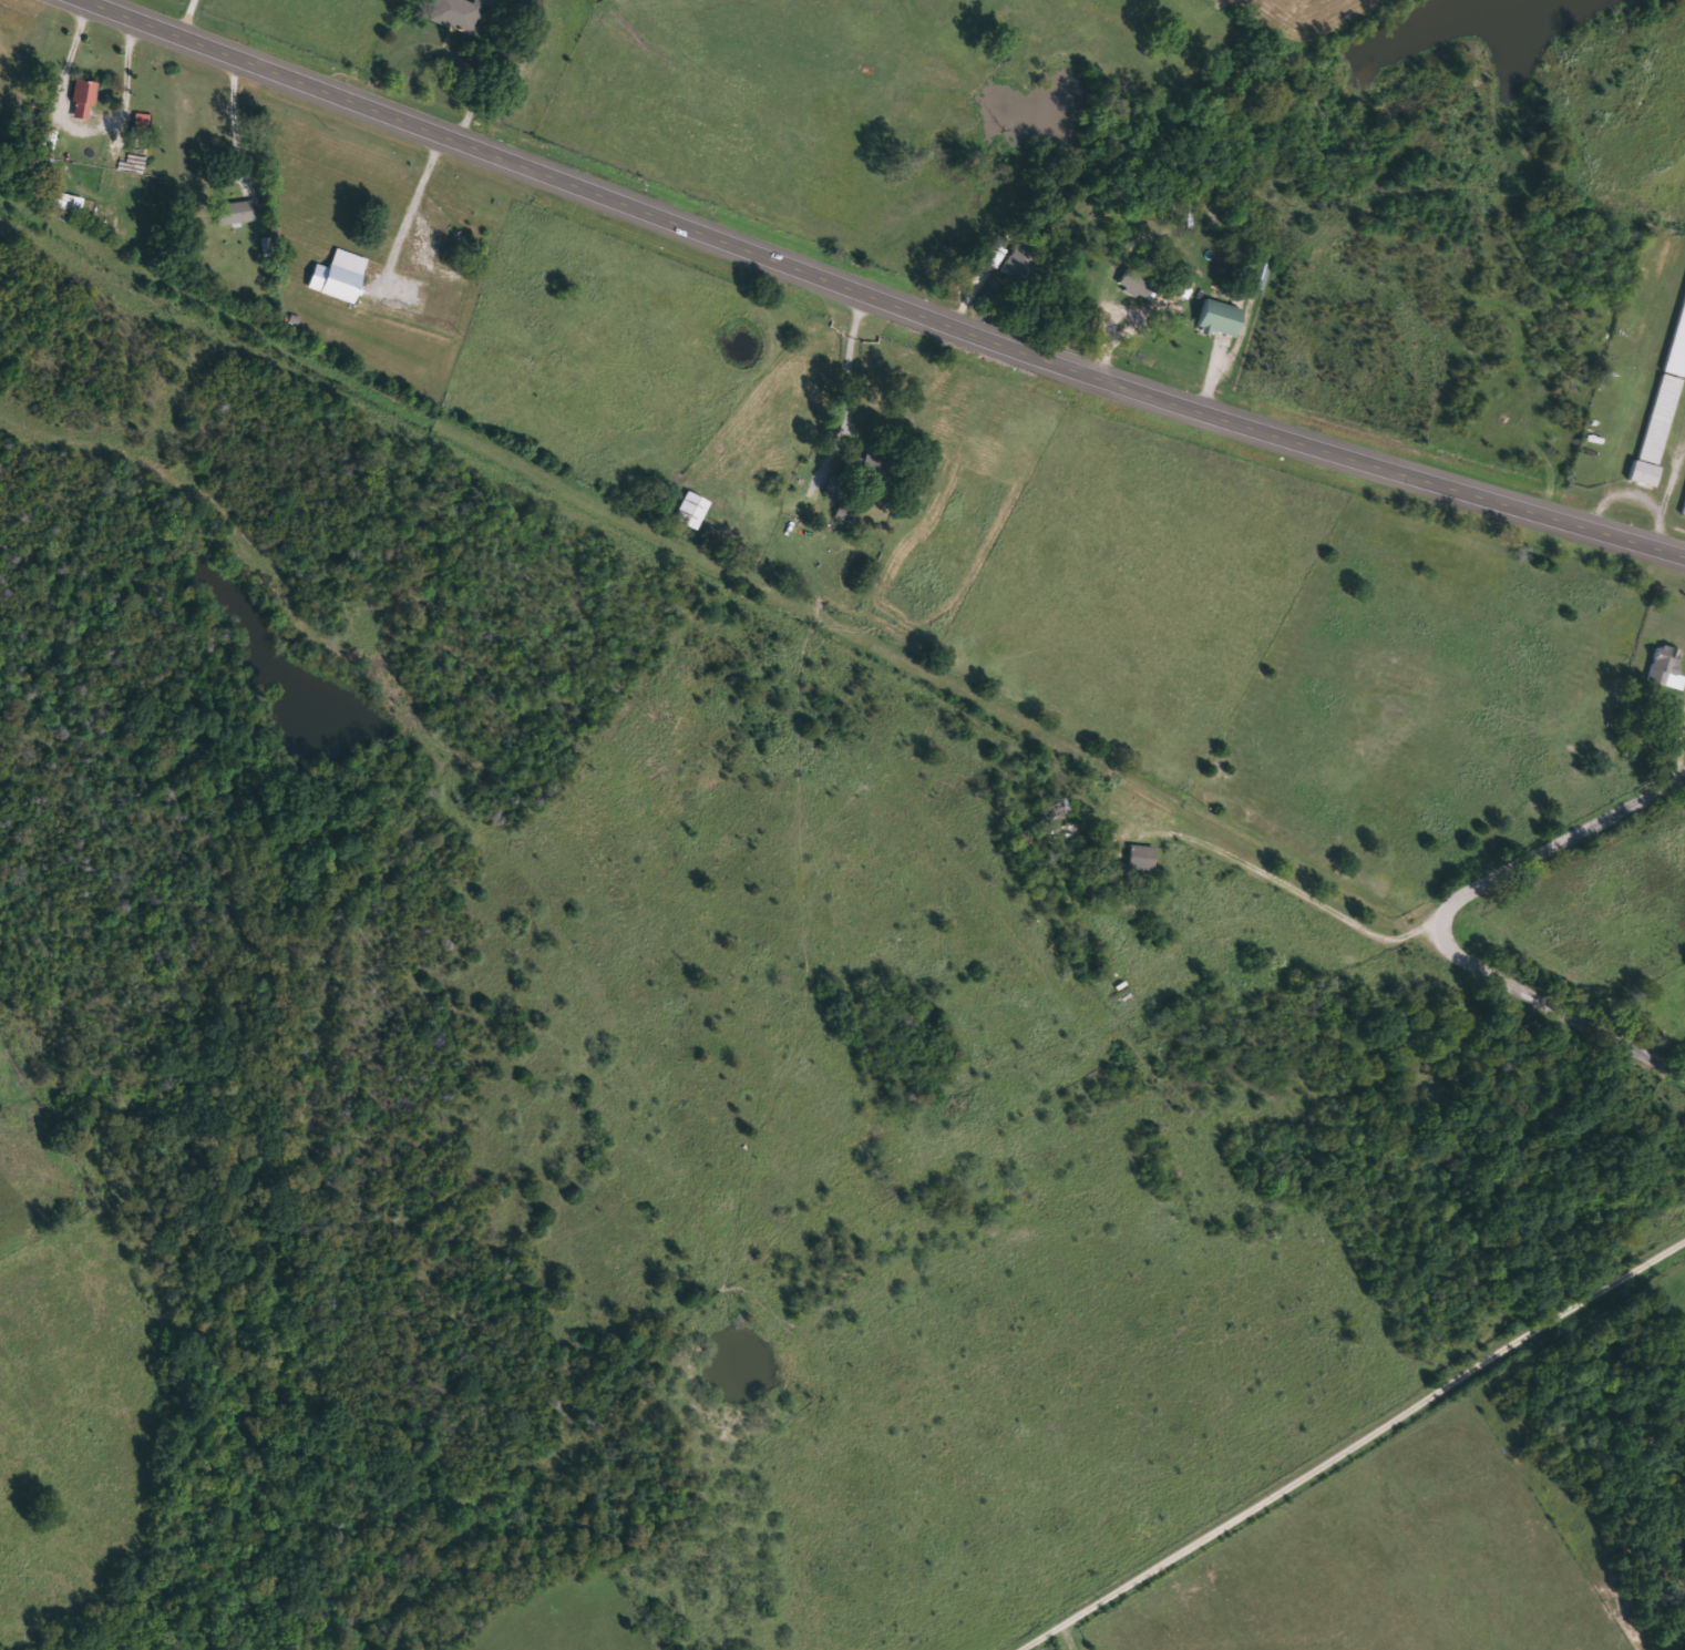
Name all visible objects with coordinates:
building: (459, 12)
building: (83, 98)
building: (144, 124)
building: (71, 204)
building: (234, 213)
building: (995, 255)
building: (1020, 265)
building: (1133, 281)
building: (340, 284)
road: (886, 293)
building: (1219, 318)
building: (1676, 348)
building: (1658, 418)
building: (1643, 474)
building: (859, 475)
building: (691, 511)
building: (1683, 511)
road: (721, 553)
building: (1665, 667)
building: (1052, 817)
road: (1556, 846)
building: (1140, 861)
road: (1555, 1005)
road: (1344, 1438)

